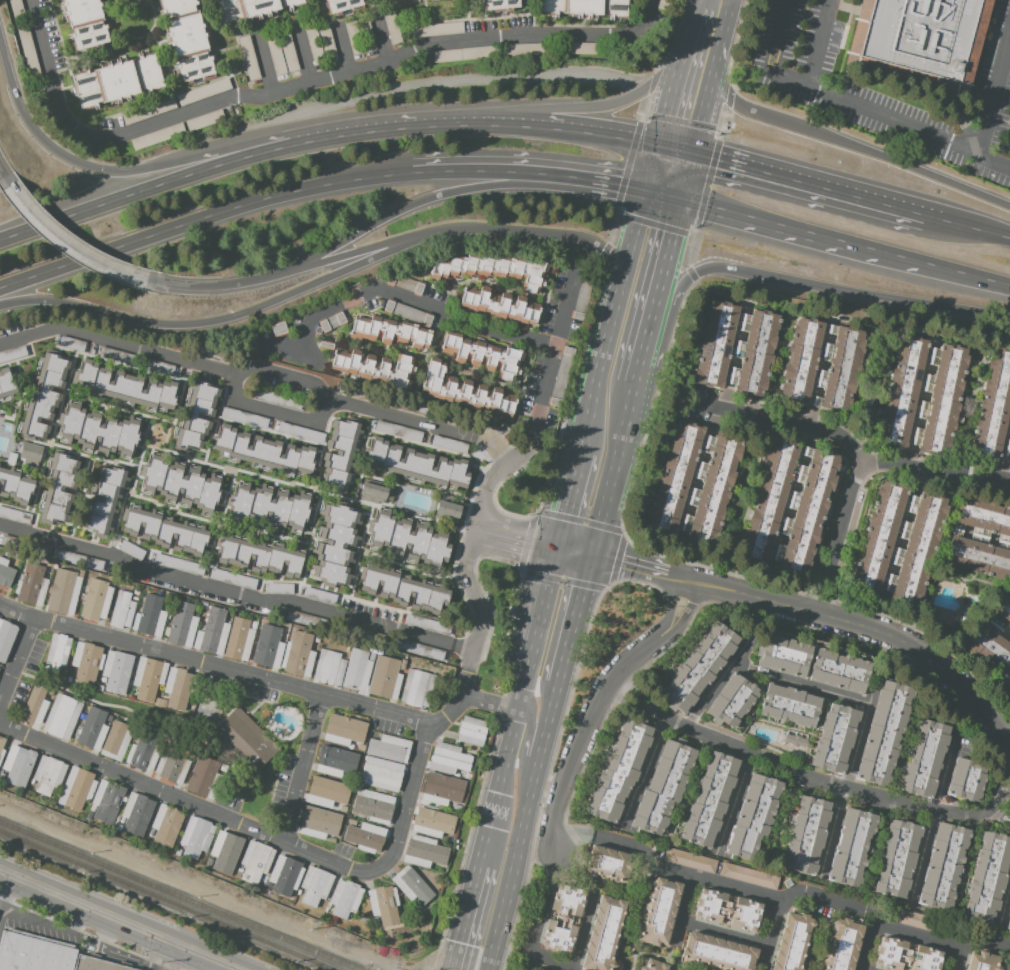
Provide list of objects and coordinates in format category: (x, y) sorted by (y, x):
building: (396, 1)
building: (500, 4)
building: (341, 6)
building: (17, 8)
building: (586, 8)
building: (250, 9)
building: (85, 22)
road: (690, 26)
building: (391, 28)
building: (439, 30)
building: (366, 34)
building: (354, 37)
building: (186, 40)
road: (380, 40)
building: (920, 40)
building: (313, 43)
building: (327, 44)
building: (27, 46)
building: (524, 48)
building: (584, 48)
road: (341, 49)
building: (288, 50)
building: (275, 53)
building: (476, 53)
road: (301, 55)
building: (447, 56)
building: (248, 57)
road: (265, 64)
building: (116, 82)
road: (305, 85)
building: (203, 92)
road: (708, 99)
road: (670, 100)
road: (604, 107)
building: (148, 111)
traffic signals: (667, 116)
building: (204, 120)
road: (901, 122)
road: (512, 124)
building: (157, 136)
road: (851, 146)
traffic signals: (658, 148)
road: (676, 152)
traffic signals: (694, 156)
road: (993, 161)
traffic signals: (718, 162)
road: (144, 170)
road: (530, 170)
road: (4, 175)
road: (180, 179)
traffic signals: (619, 182)
road: (809, 185)
traffic signals: (646, 191)
road: (450, 193)
traffic signals: (616, 194)
road: (664, 195)
traffic signals: (682, 200)
road: (203, 220)
road: (967, 226)
road: (674, 230)
road: (799, 232)
road: (552, 235)
traffic signals: (673, 235)
road: (70, 242)
road: (354, 254)
road: (681, 265)
building: (491, 270)
road: (963, 276)
road: (660, 283)
road: (209, 287)
road: (849, 292)
road: (412, 301)
building: (498, 304)
road: (616, 306)
road: (225, 320)
building: (389, 332)
building: (69, 343)
road: (645, 343)
building: (735, 348)
road: (293, 352)
building: (13, 354)
building: (115, 355)
building: (483, 355)
building: (821, 364)
road: (658, 365)
building: (159, 367)
road: (260, 367)
building: (375, 367)
road: (547, 372)
building: (8, 385)
building: (126, 389)
building: (463, 390)
building: (359, 393)
building: (924, 395)
building: (276, 398)
building: (43, 403)
building: (411, 406)
building: (994, 408)
building: (197, 414)
road: (275, 415)
road: (627, 417)
building: (242, 418)
building: (0, 419)
road: (778, 424)
building: (399, 431)
building: (99, 432)
building: (303, 432)
building: (449, 444)
building: (339, 453)
building: (263, 454)
road: (860, 463)
building: (415, 467)
building: (693, 481)
building: (182, 486)
building: (16, 487)
building: (59, 487)
building: (376, 492)
building: (102, 500)
road: (603, 504)
building: (270, 508)
building: (447, 509)
road: (568, 509)
building: (788, 509)
building: (11, 515)
traffic signals: (567, 515)
building: (164, 531)
building: (980, 538)
building: (409, 539)
building: (9, 541)
road: (513, 541)
building: (899, 542)
traffic signals: (528, 545)
building: (337, 547)
building: (40, 548)
building: (130, 550)
road: (573, 554)
building: (263, 557)
building: (79, 559)
traffic signals: (623, 559)
road: (628, 560)
building: (18, 564)
building: (178, 565)
building: (6, 573)
building: (80, 573)
road: (466, 576)
building: (232, 577)
road: (716, 581)
building: (31, 584)
road: (673, 586)
traffic signals: (581, 588)
building: (279, 589)
building: (405, 589)
building: (63, 592)
building: (135, 592)
road: (235, 592)
building: (82, 597)
building: (134, 598)
building: (325, 598)
building: (96, 599)
road: (544, 600)
building: (204, 606)
road: (671, 609)
building: (121, 610)
road: (685, 614)
building: (151, 616)
road: (573, 619)
building: (182, 624)
building: (424, 624)
building: (253, 625)
building: (212, 632)
building: (993, 635)
building: (5, 636)
building: (240, 639)
building: (316, 640)
road: (902, 642)
building: (268, 646)
building: (347, 650)
building: (58, 652)
building: (298, 654)
building: (355, 656)
building: (783, 656)
road: (17, 662)
building: (86, 662)
road: (634, 662)
road: (213, 664)
building: (401, 665)
building: (329, 667)
building: (700, 667)
building: (838, 671)
building: (116, 672)
building: (358, 673)
building: (384, 677)
building: (148, 678)
building: (68, 680)
building: (176, 687)
road: (711, 687)
building: (100, 688)
building: (415, 688)
building: (51, 691)
road: (231, 692)
road: (841, 695)
road: (469, 699)
building: (732, 701)
building: (160, 702)
road: (271, 703)
road: (104, 704)
building: (35, 706)
building: (790, 706)
park: (205, 708)
road: (253, 710)
road: (247, 715)
building: (61, 716)
building: (108, 718)
road: (256, 728)
building: (92, 729)
building: (344, 730)
building: (472, 730)
building: (884, 732)
building: (246, 738)
building: (834, 738)
building: (115, 740)
building: (794, 741)
building: (1, 748)
road: (230, 748)
building: (388, 748)
road: (509, 748)
building: (143, 751)
building: (215, 752)
road: (272, 756)
building: (924, 758)
building: (449, 759)
building: (337, 760)
building: (19, 761)
building: (173, 764)
road: (523, 765)
road: (302, 766)
building: (2, 769)
building: (620, 769)
road: (551, 773)
building: (381, 774)
road: (567, 774)
building: (48, 775)
building: (467, 775)
road: (808, 775)
building: (1, 777)
building: (204, 778)
building: (966, 780)
road: (276, 781)
building: (32, 782)
building: (227, 783)
building: (233, 786)
building: (77, 789)
building: (441, 789)
building: (663, 789)
building: (327, 792)
road: (226, 793)
building: (709, 800)
building: (107, 801)
building: (373, 806)
building: (456, 807)
building: (342, 808)
building: (89, 813)
building: (136, 814)
road: (540, 816)
building: (753, 816)
building: (319, 822)
building: (432, 822)
building: (352, 823)
building: (166, 824)
road: (524, 825)
building: (118, 827)
road: (259, 831)
building: (807, 834)
building: (193, 837)
building: (366, 837)
building: (451, 837)
building: (331, 839)
building: (179, 847)
building: (852, 847)
building: (225, 850)
building: (176, 852)
building: (422, 852)
railway: (77, 854)
building: (897, 859)
building: (690, 860)
building: (255, 861)
road: (536, 861)
building: (607, 864)
building: (944, 865)
railway: (97, 872)
building: (237, 875)
building: (284, 875)
building: (750, 876)
building: (987, 878)
building: (267, 885)
building: (315, 885)
building: (412, 885)
road: (6, 891)
building: (298, 892)
road: (783, 897)
building: (344, 898)
building: (328, 904)
building: (384, 904)
building: (417, 906)
road: (469, 909)
building: (728, 910)
building: (658, 911)
road: (682, 911)
road: (539, 916)
road: (26, 917)
building: (563, 918)
road: (120, 919)
building: (375, 920)
building: (919, 921)
building: (1009, 923)
railway: (255, 928)
road: (723, 933)
road: (770, 933)
building: (604, 934)
railway: (263, 941)
building: (793, 942)
traffic signals: (461, 945)
building: (842, 945)
road: (865, 947)
road: (152, 952)
road: (575, 952)
building: (717, 952)
building: (32, 953)
road: (173, 956)
building: (906, 956)
road: (957, 959)
building: (983, 962)
building: (96, 964)
building: (652, 965)
road: (861, 969)

